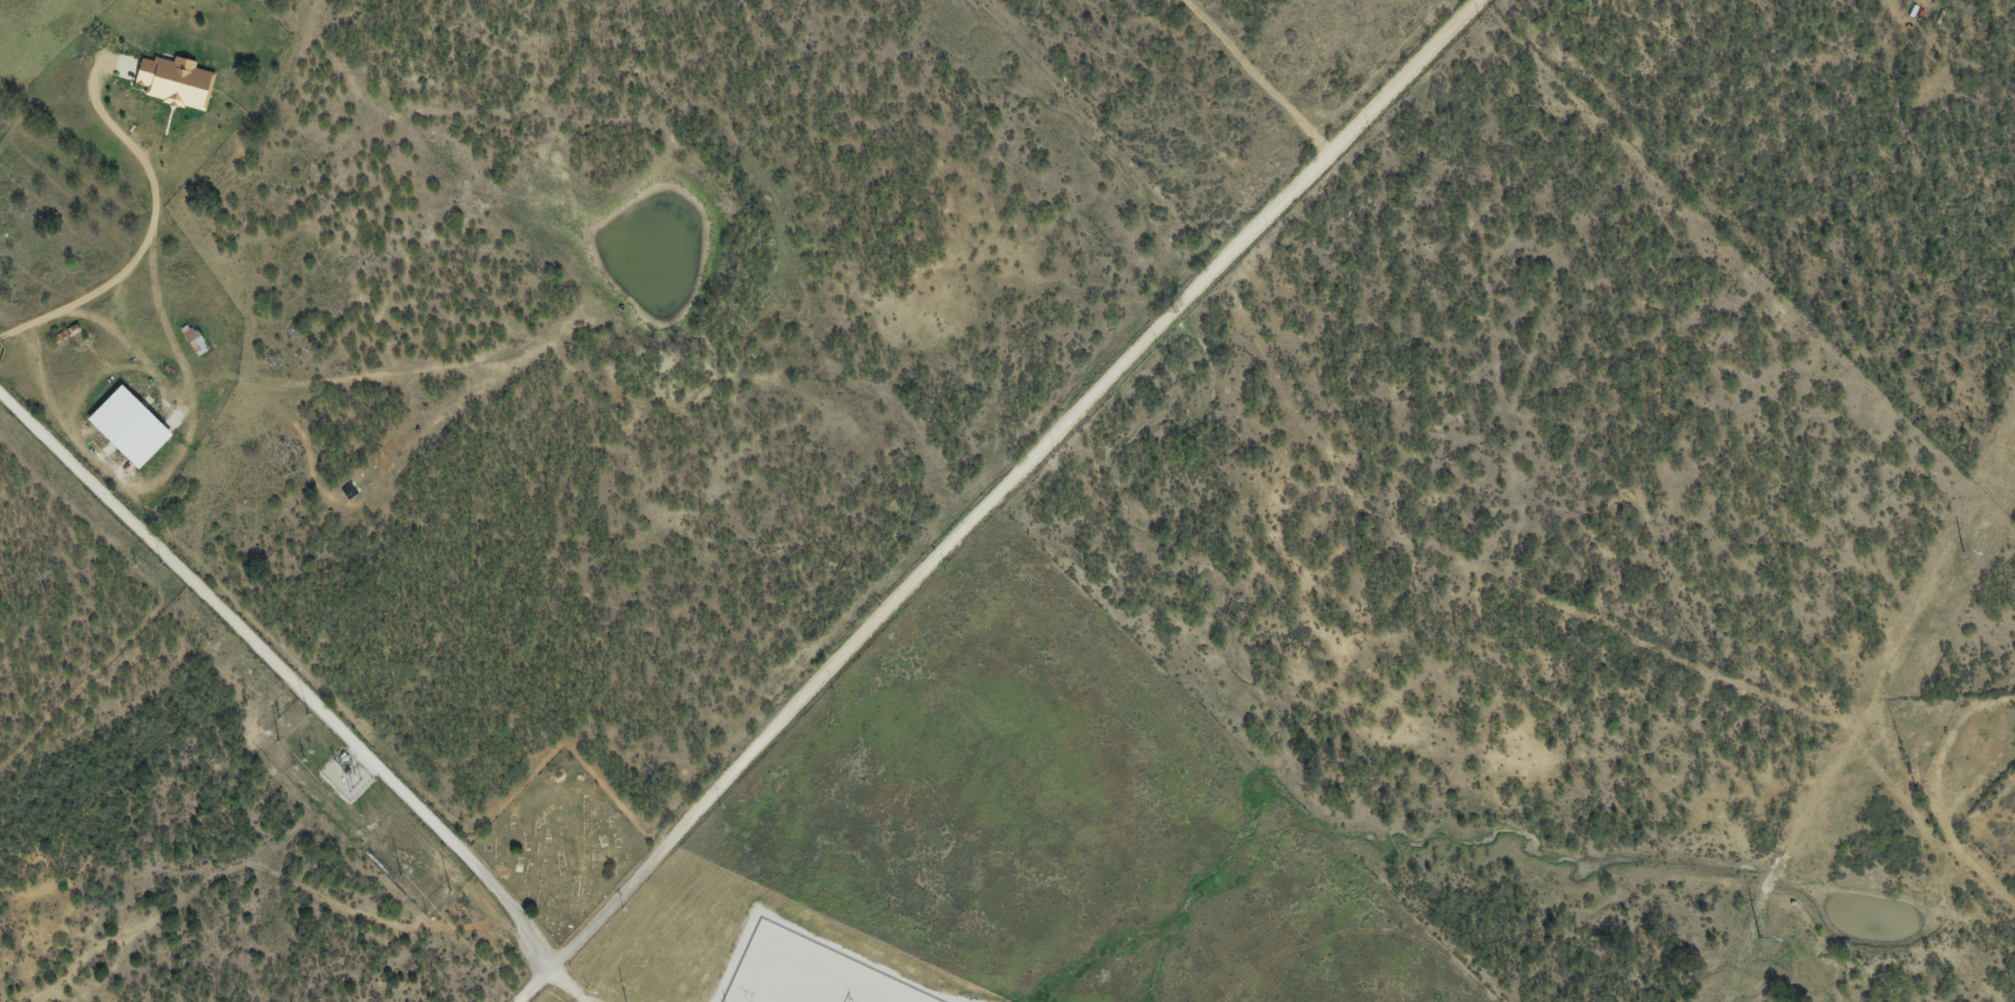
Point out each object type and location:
building: (167, 83)
building: (197, 339)
building: (135, 426)
road: (1003, 492)
road: (1501, 581)
road: (279, 680)
road: (278, 743)
power substation: (345, 775)
park: (558, 848)
power tower: (450, 891)
power substation: (813, 973)
power tower: (625, 1001)

